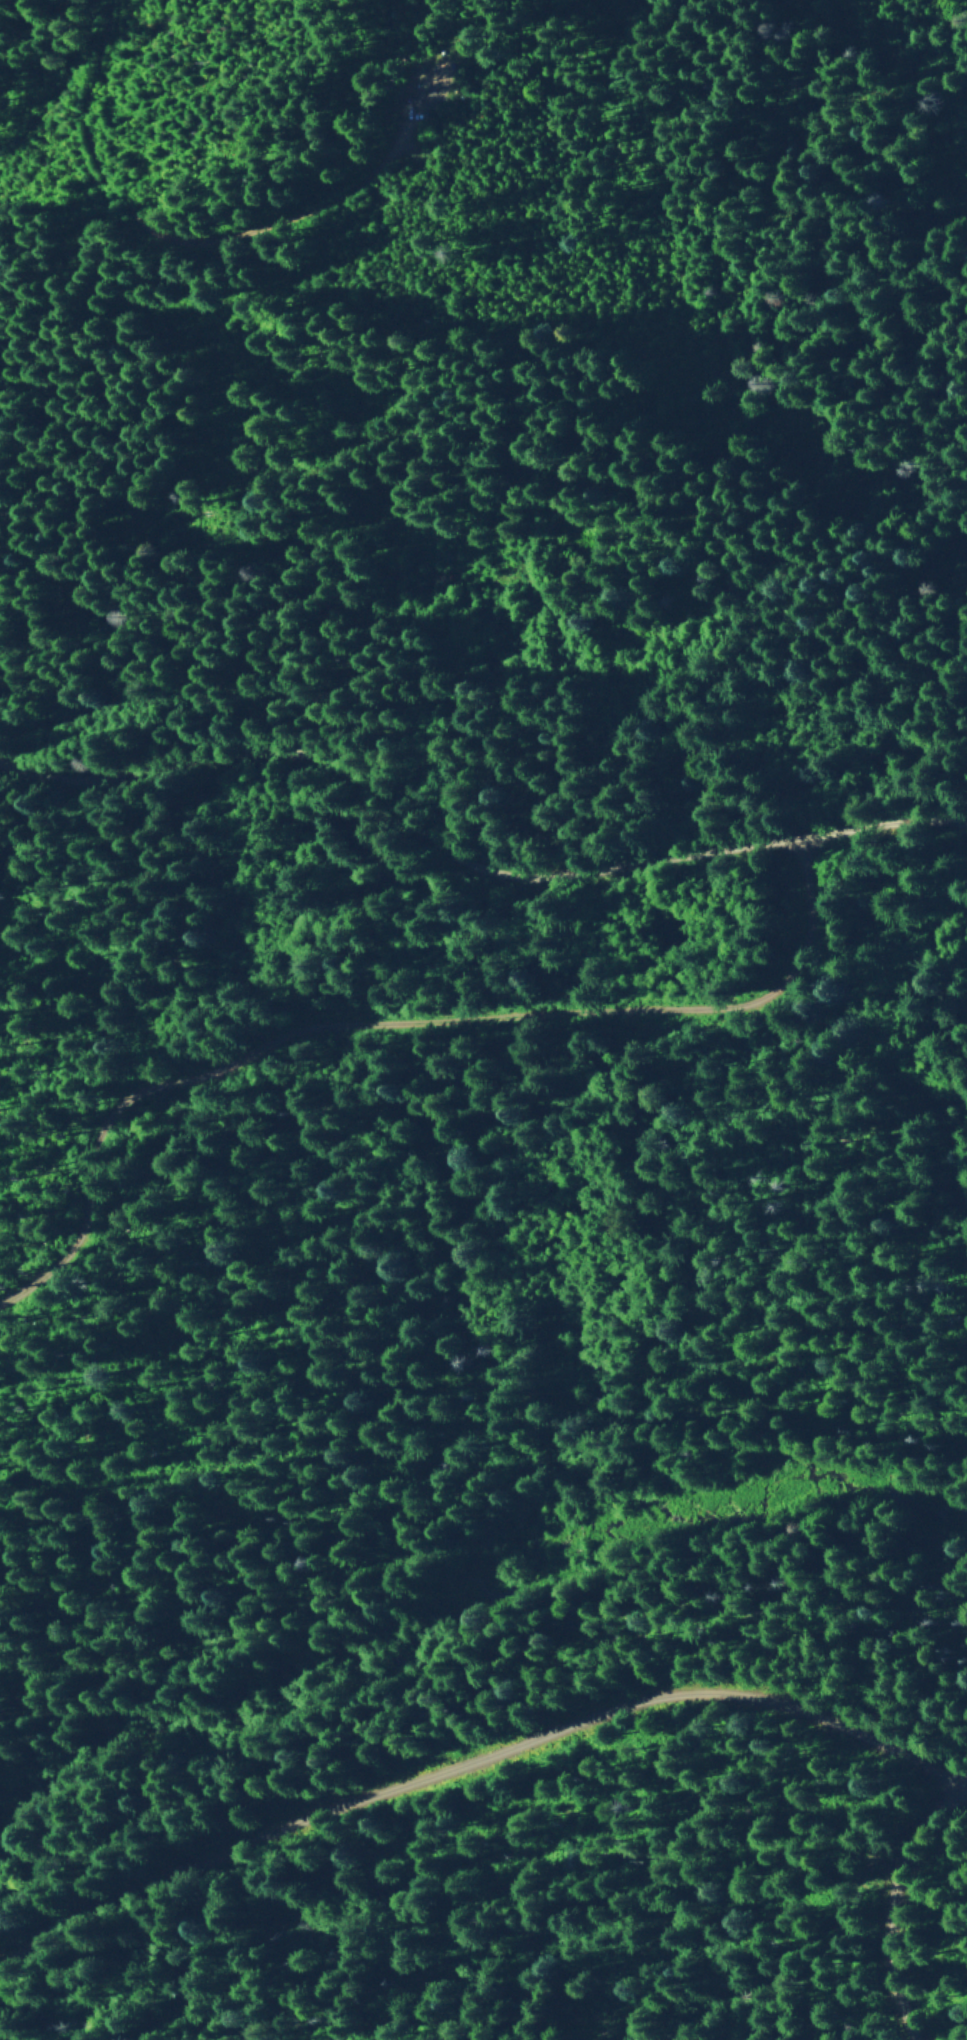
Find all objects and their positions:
road: (478, 848)
river: (440, 1615)
road: (473, 1763)

